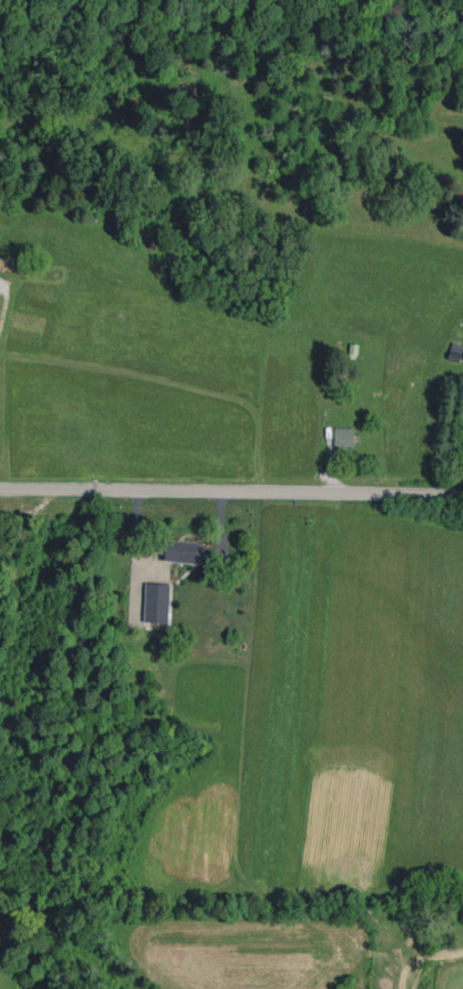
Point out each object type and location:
building: (0, 293)
building: (344, 437)
road: (231, 491)
building: (184, 551)
building: (157, 602)

